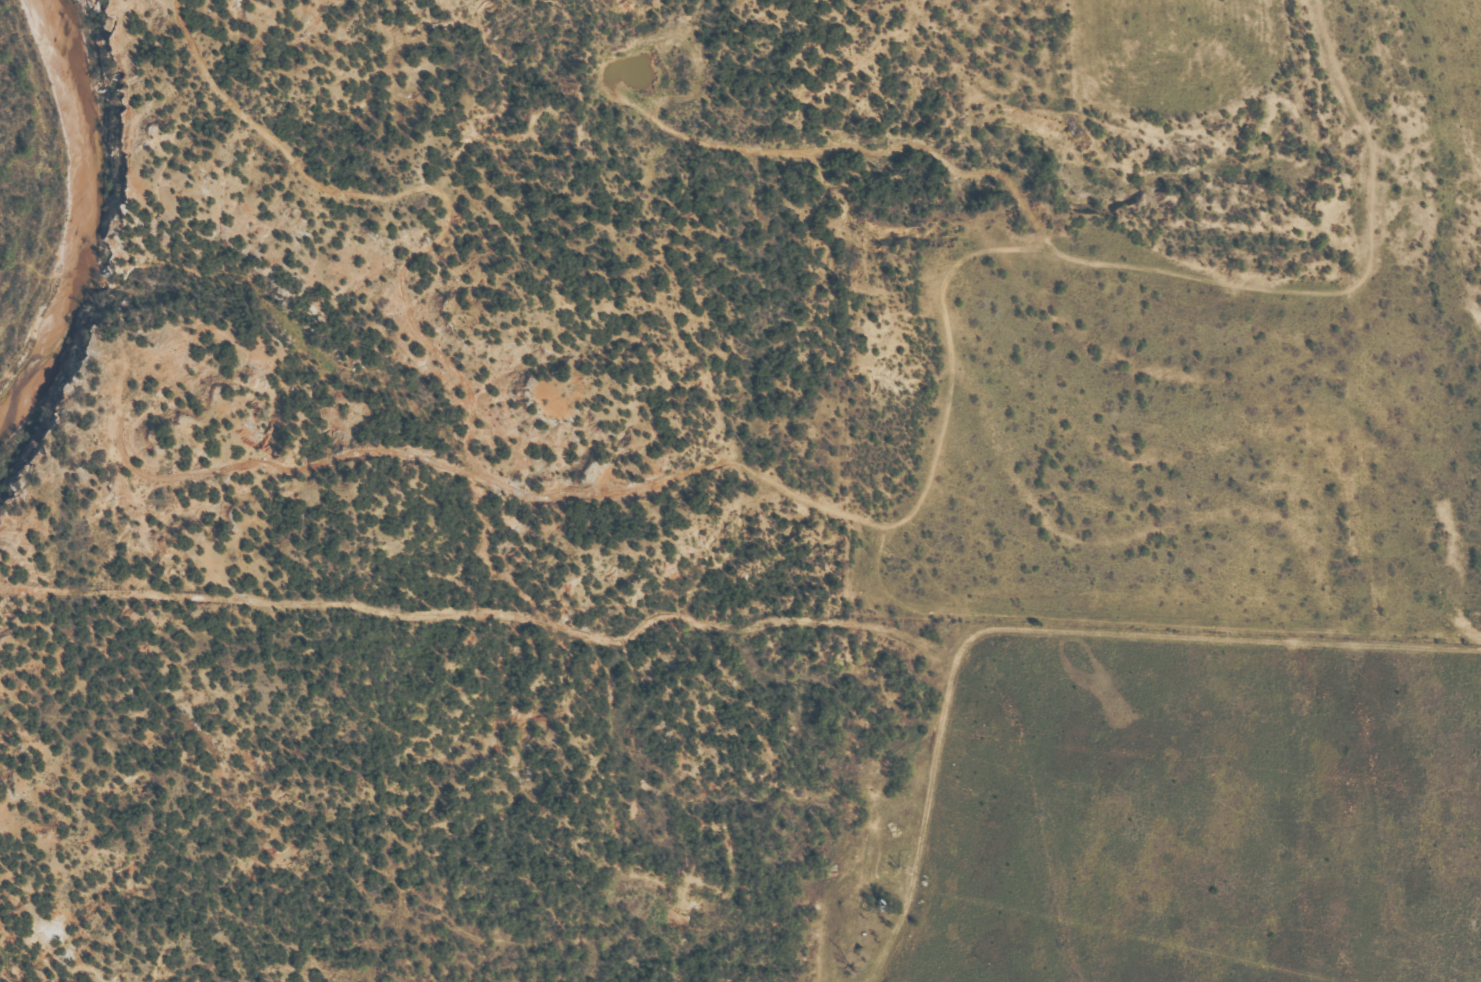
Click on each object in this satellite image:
river: (96, 219)
road: (1101, 668)

